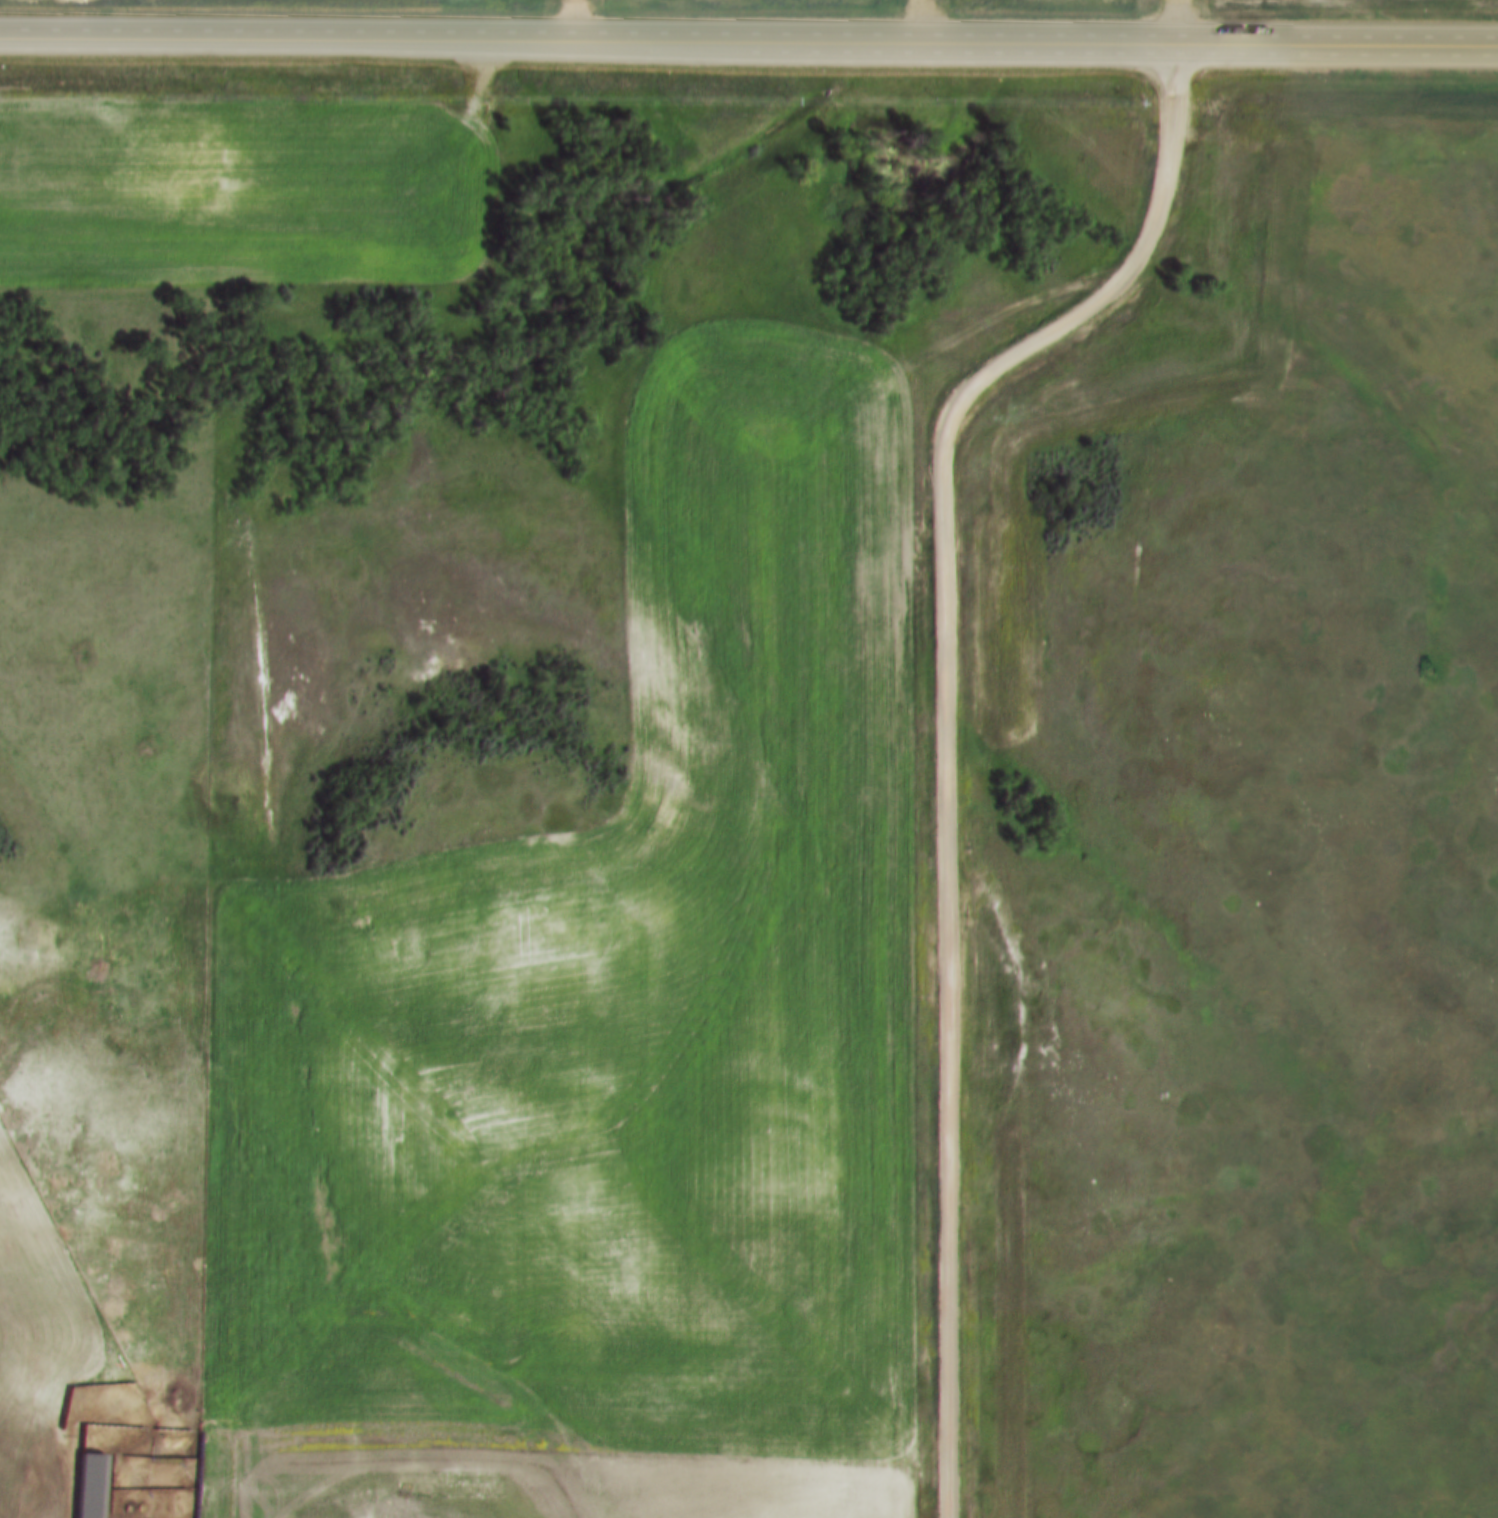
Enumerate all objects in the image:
road: (581, 19)
road: (914, 19)
road: (1189, 19)
road: (748, 39)
road: (945, 728)

